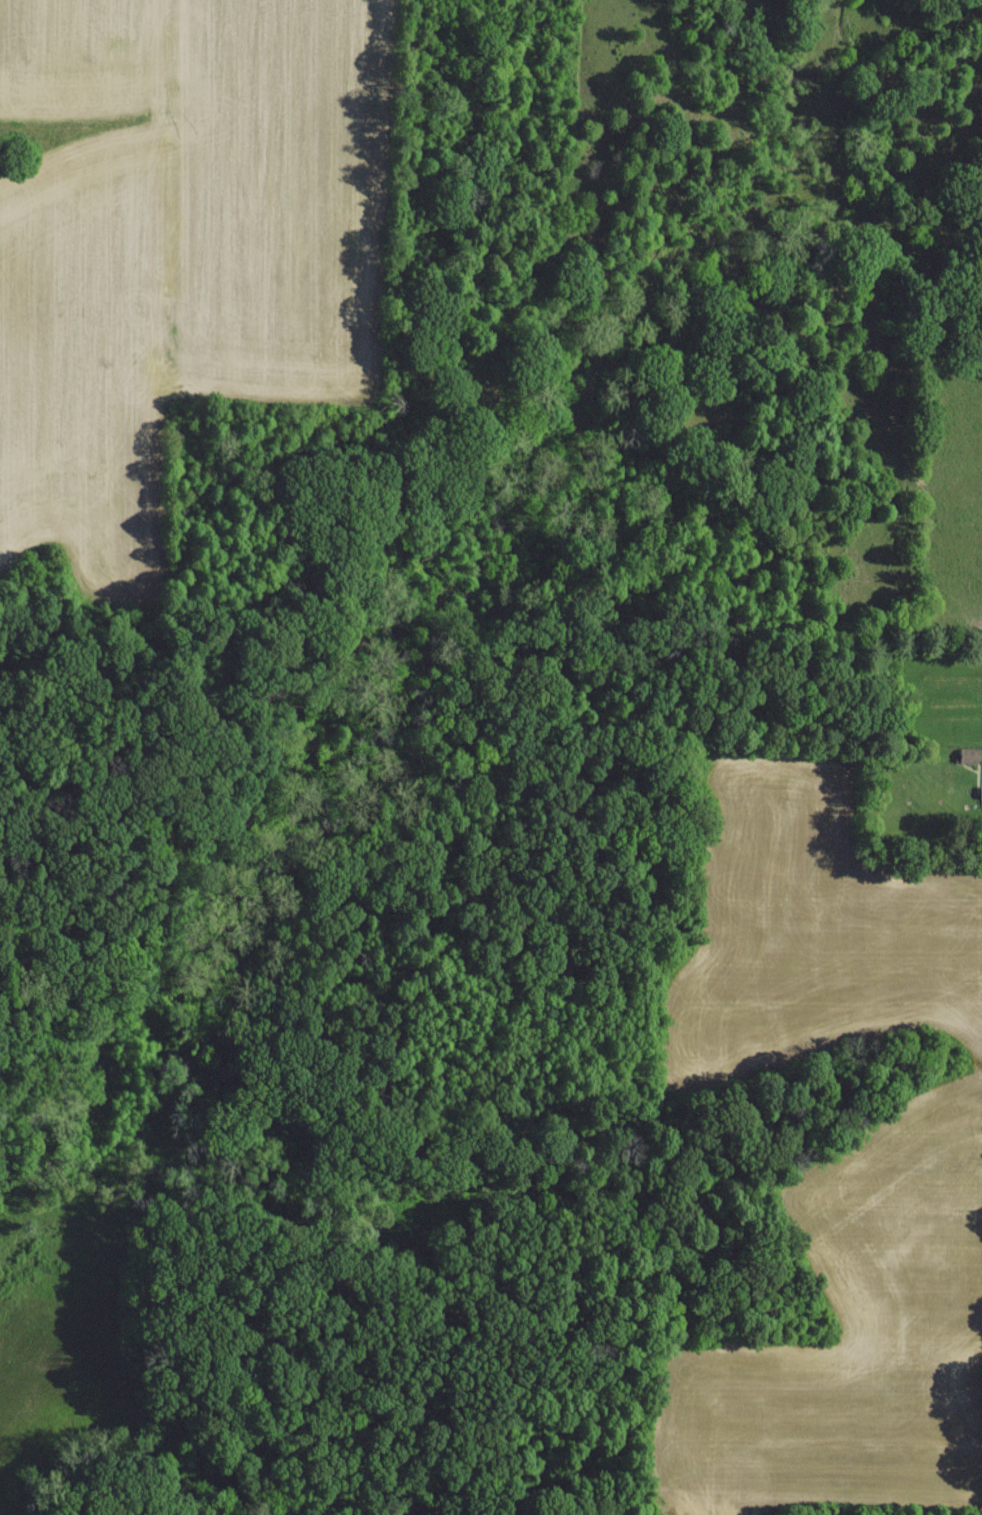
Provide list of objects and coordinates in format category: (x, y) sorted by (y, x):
building: (968, 755)
building: (980, 791)

